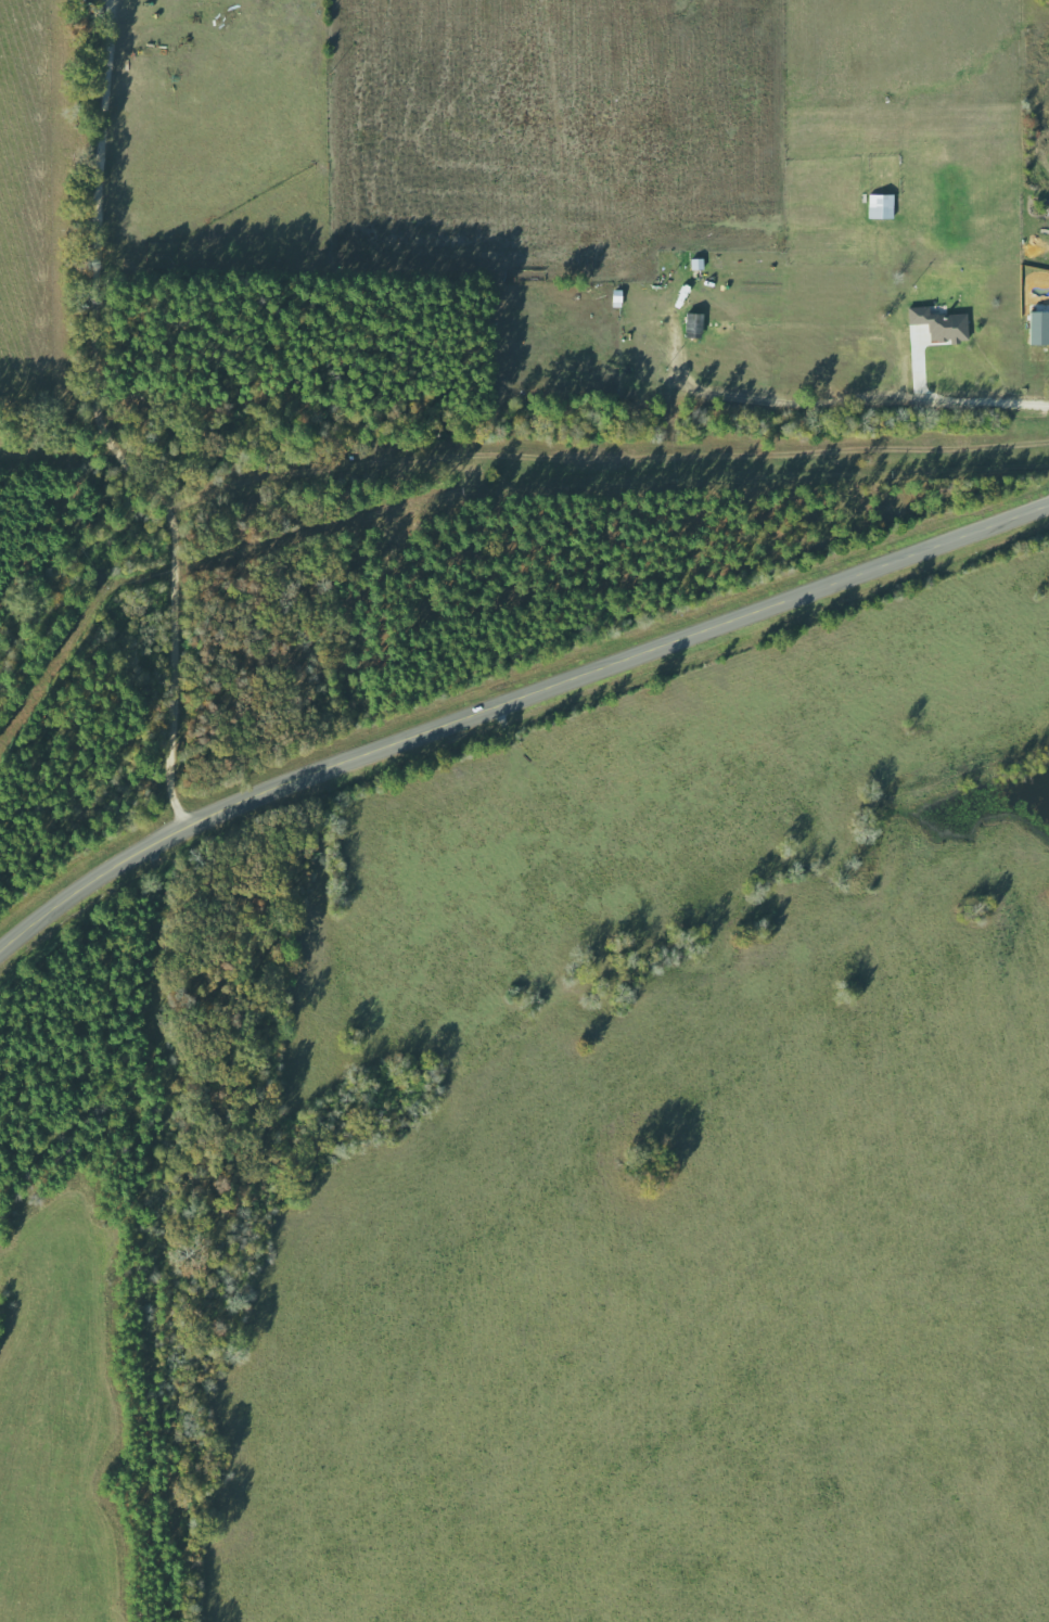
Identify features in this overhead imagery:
building: (885, 206)
building: (701, 264)
building: (699, 325)
building: (944, 325)
building: (1041, 329)
road: (511, 700)

